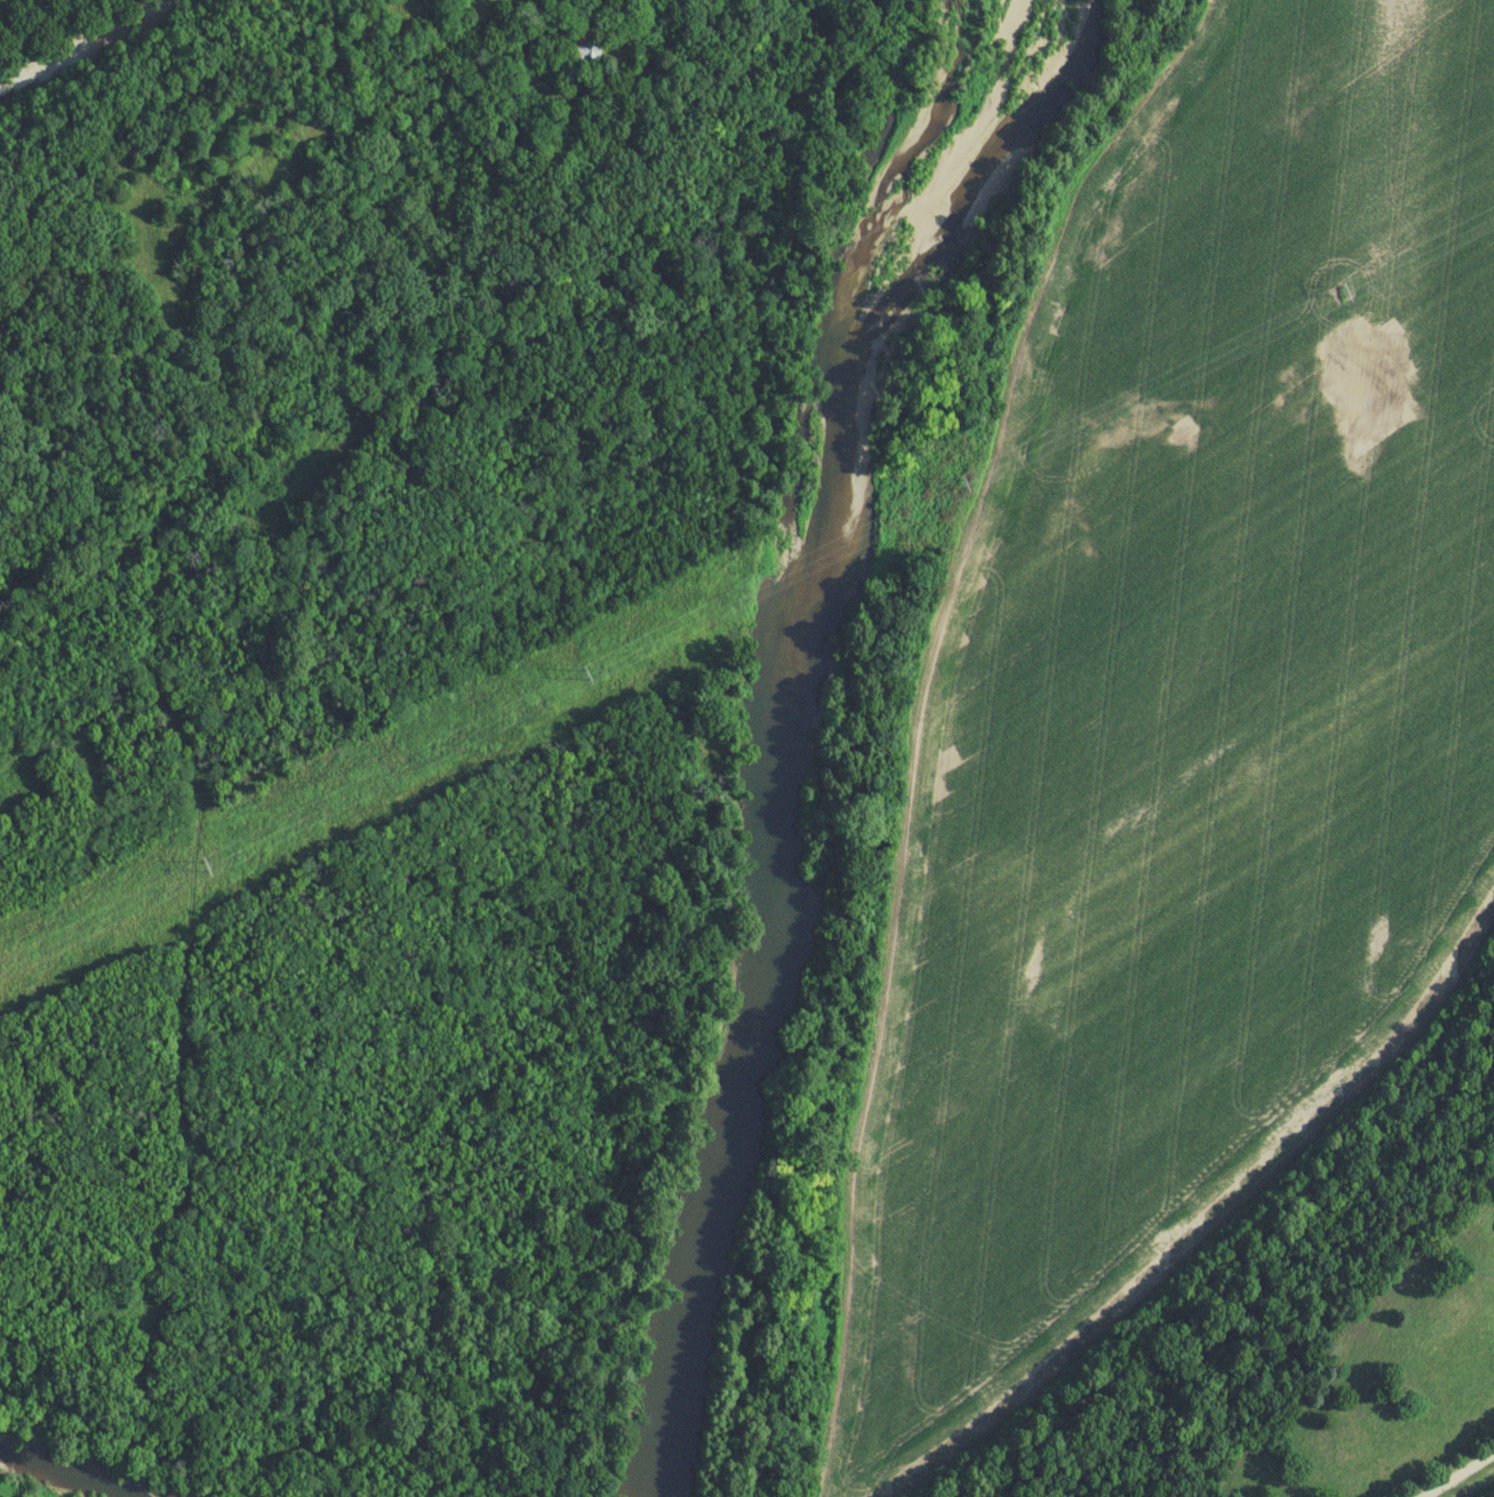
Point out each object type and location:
building: (586, 49)
power tower: (1340, 293)
power tower: (963, 486)
power tower: (585, 677)
river: (772, 703)
power tower: (204, 866)
road: (1452, 1471)

